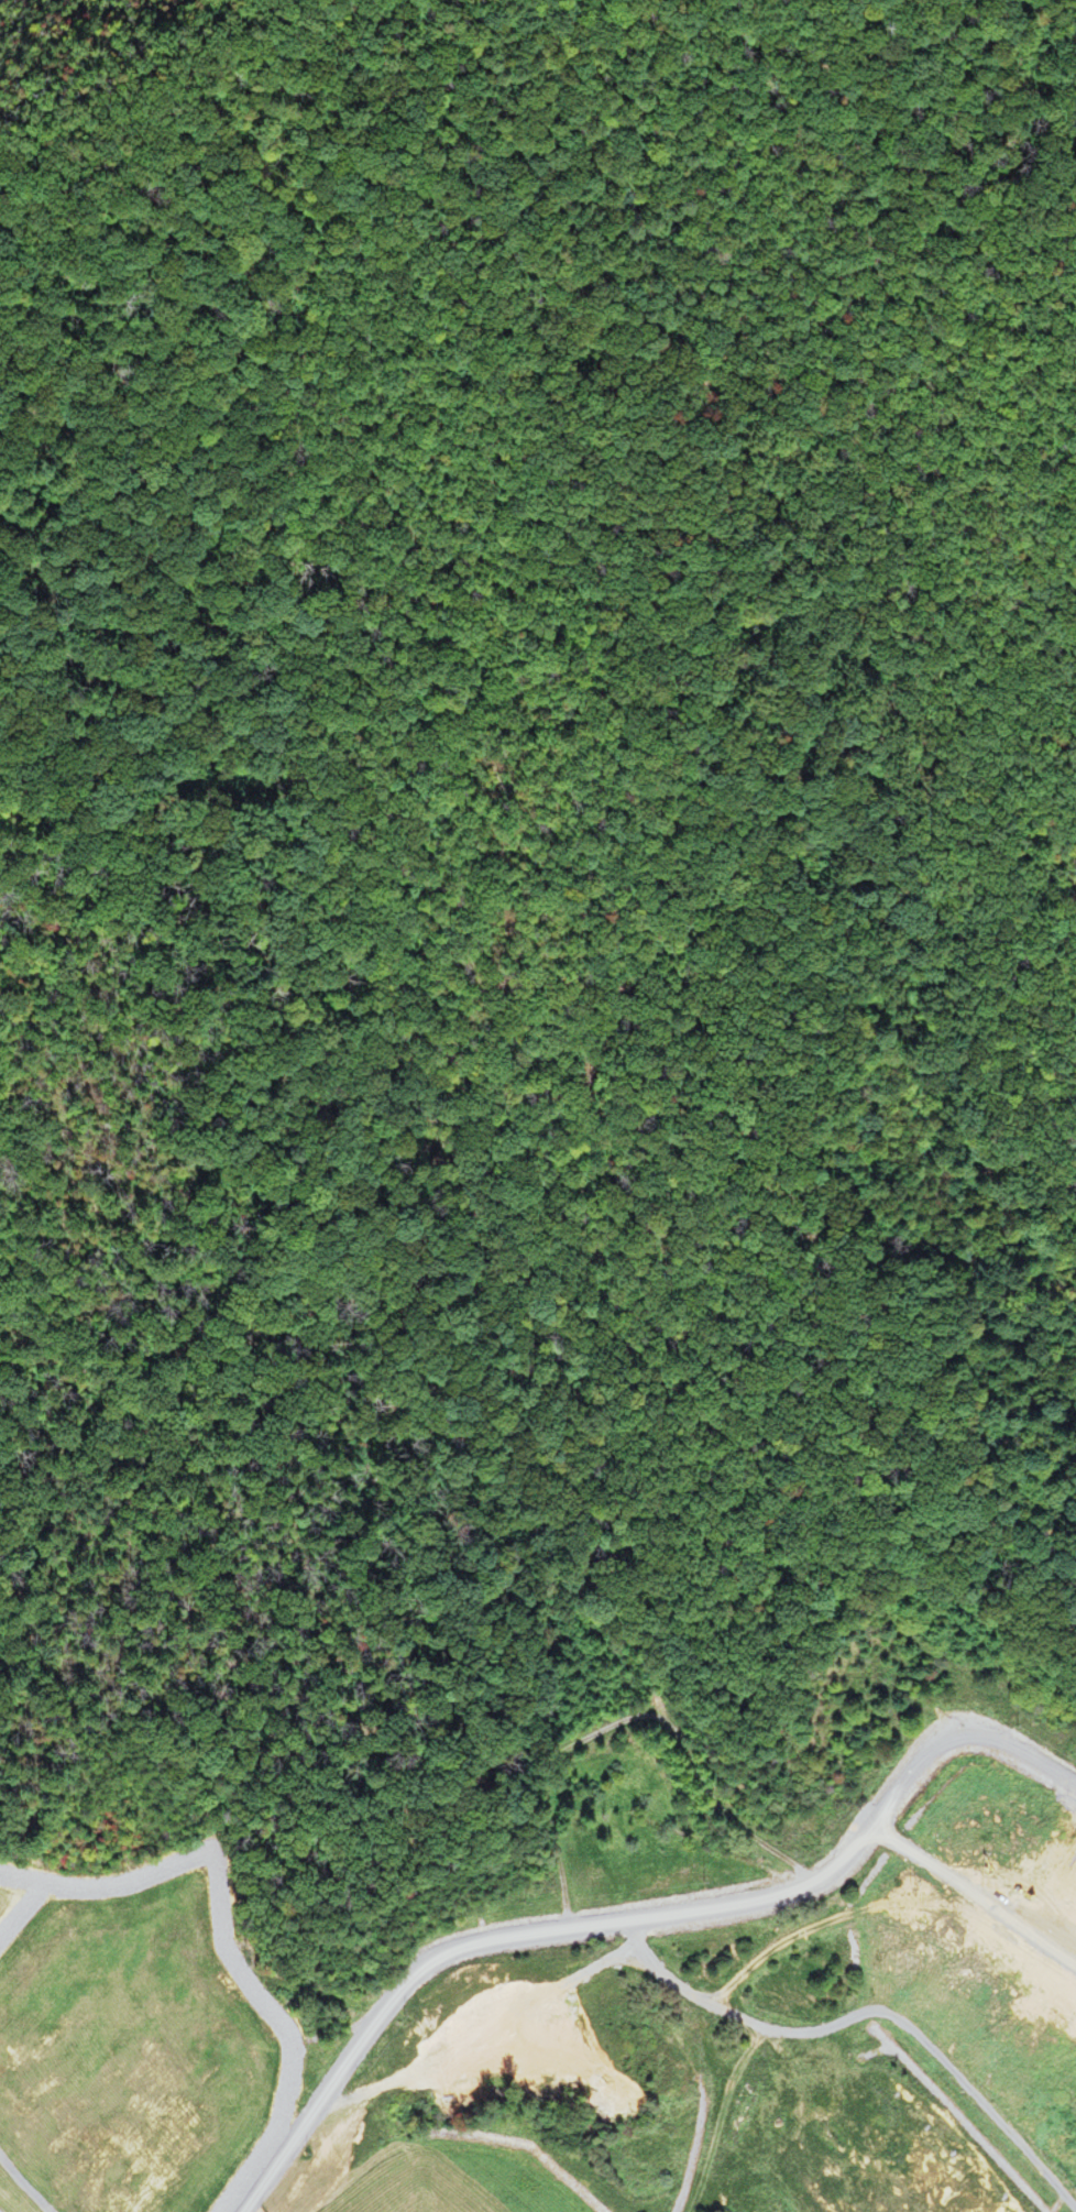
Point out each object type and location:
road: (301, 135)
road: (541, 960)
road: (633, 1917)

